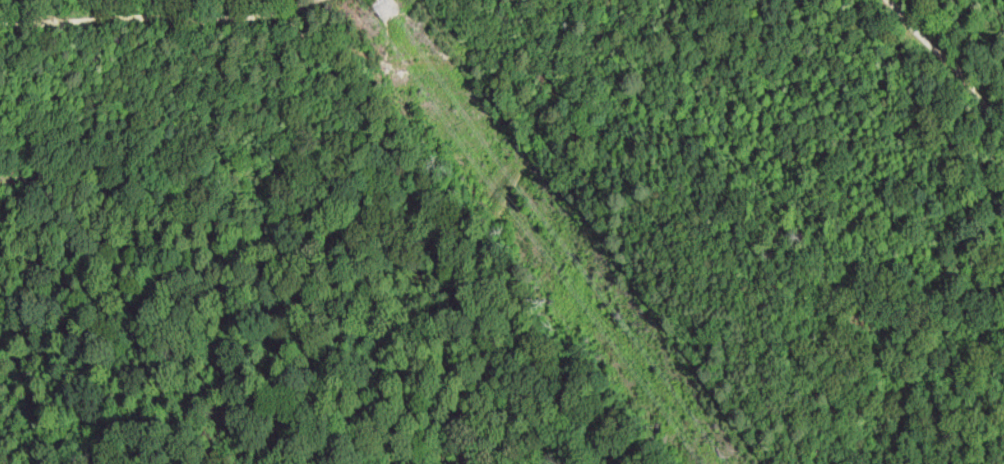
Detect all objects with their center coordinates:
road: (171, 11)
road: (932, 45)

